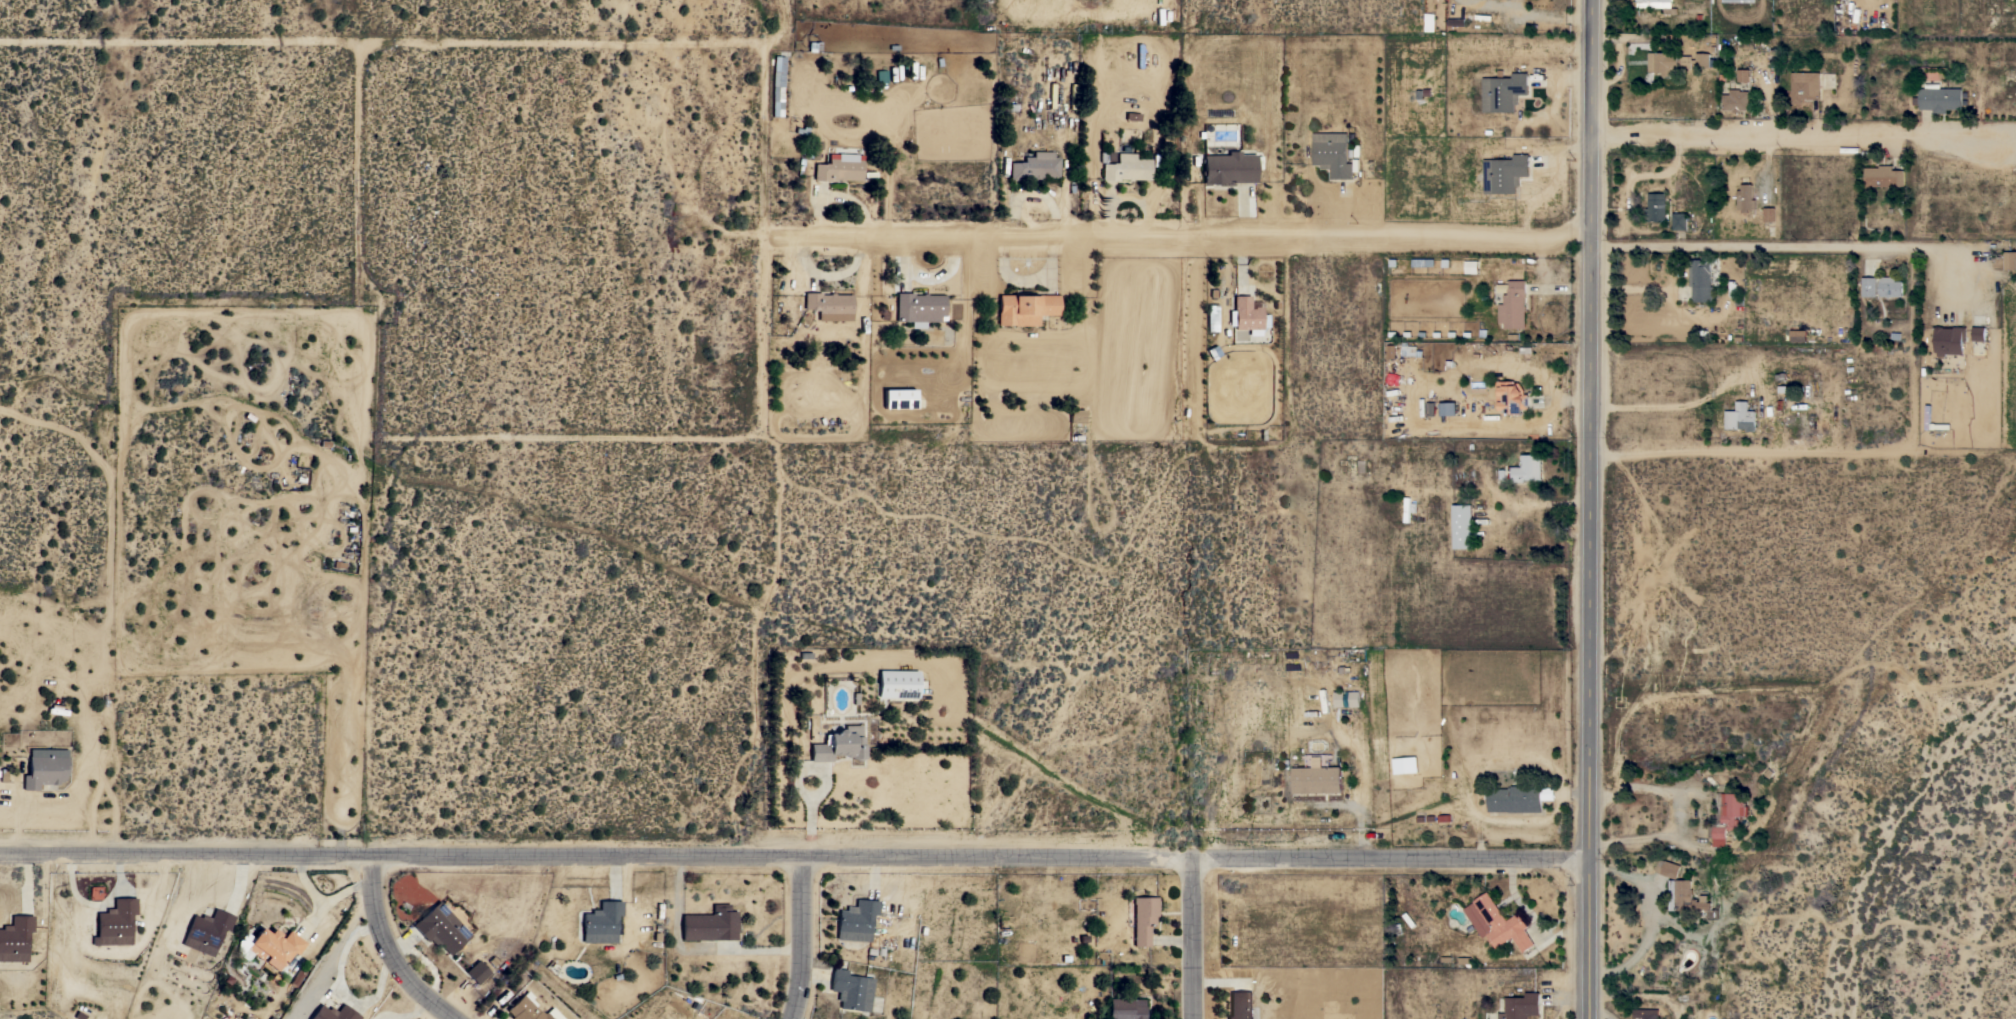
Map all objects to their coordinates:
building: (1739, 0)
building: (1658, 5)
road: (787, 16)
road: (796, 33)
building: (1850, 45)
building: (1675, 62)
building: (1744, 75)
building: (1805, 86)
building: (1503, 92)
building: (1051, 95)
building: (1072, 96)
building: (1939, 98)
building: (1736, 100)
road: (1805, 137)
building: (1333, 154)
building: (1106, 157)
building: (1034, 166)
building: (1230, 167)
road: (1768, 167)
building: (839, 168)
building: (1126, 168)
building: (1505, 173)
building: (1883, 176)
building: (1745, 198)
building: (1656, 207)
building: (1769, 214)
building: (1679, 220)
road: (1180, 231)
road: (360, 238)
road: (764, 238)
road: (1795, 247)
building: (2010, 260)
building: (1423, 262)
building: (1471, 266)
building: (1700, 279)
building: (1869, 286)
building: (1890, 286)
building: (829, 305)
building: (1513, 305)
building: (919, 308)
building: (1025, 308)
building: (1246, 314)
building: (1978, 333)
building: (1798, 336)
building: (1949, 340)
building: (1409, 350)
building: (1782, 389)
building: (1511, 397)
building: (899, 398)
road: (1678, 408)
building: (1449, 409)
building: (1927, 414)
building: (1076, 416)
building: (1740, 417)
road: (562, 436)
road: (1757, 450)
building: (1528, 468)
building: (1407, 509)
road: (1596, 509)
building: (1462, 526)
building: (897, 683)
building: (1350, 699)
building: (838, 745)
building: (1405, 765)
building: (45, 767)
building: (1316, 778)
road: (797, 779)
building: (1518, 798)
building: (1729, 816)
road: (797, 851)
building: (1668, 868)
building: (1690, 899)
road: (1534, 917)
building: (1143, 919)
building: (855, 920)
building: (115, 922)
building: (601, 922)
building: (1497, 923)
building: (709, 924)
building: (440, 928)
building: (206, 931)
road: (804, 935)
building: (15, 938)
road: (1196, 938)
building: (274, 946)
road: (692, 947)
road: (390, 948)
building: (476, 971)
road: (336, 980)
building: (851, 990)
building: (1240, 1005)
building: (1521, 1006)
building: (529, 1009)
building: (1125, 1009)
building: (333, 1013)
road: (1606, 1013)
building: (1647, 1013)

